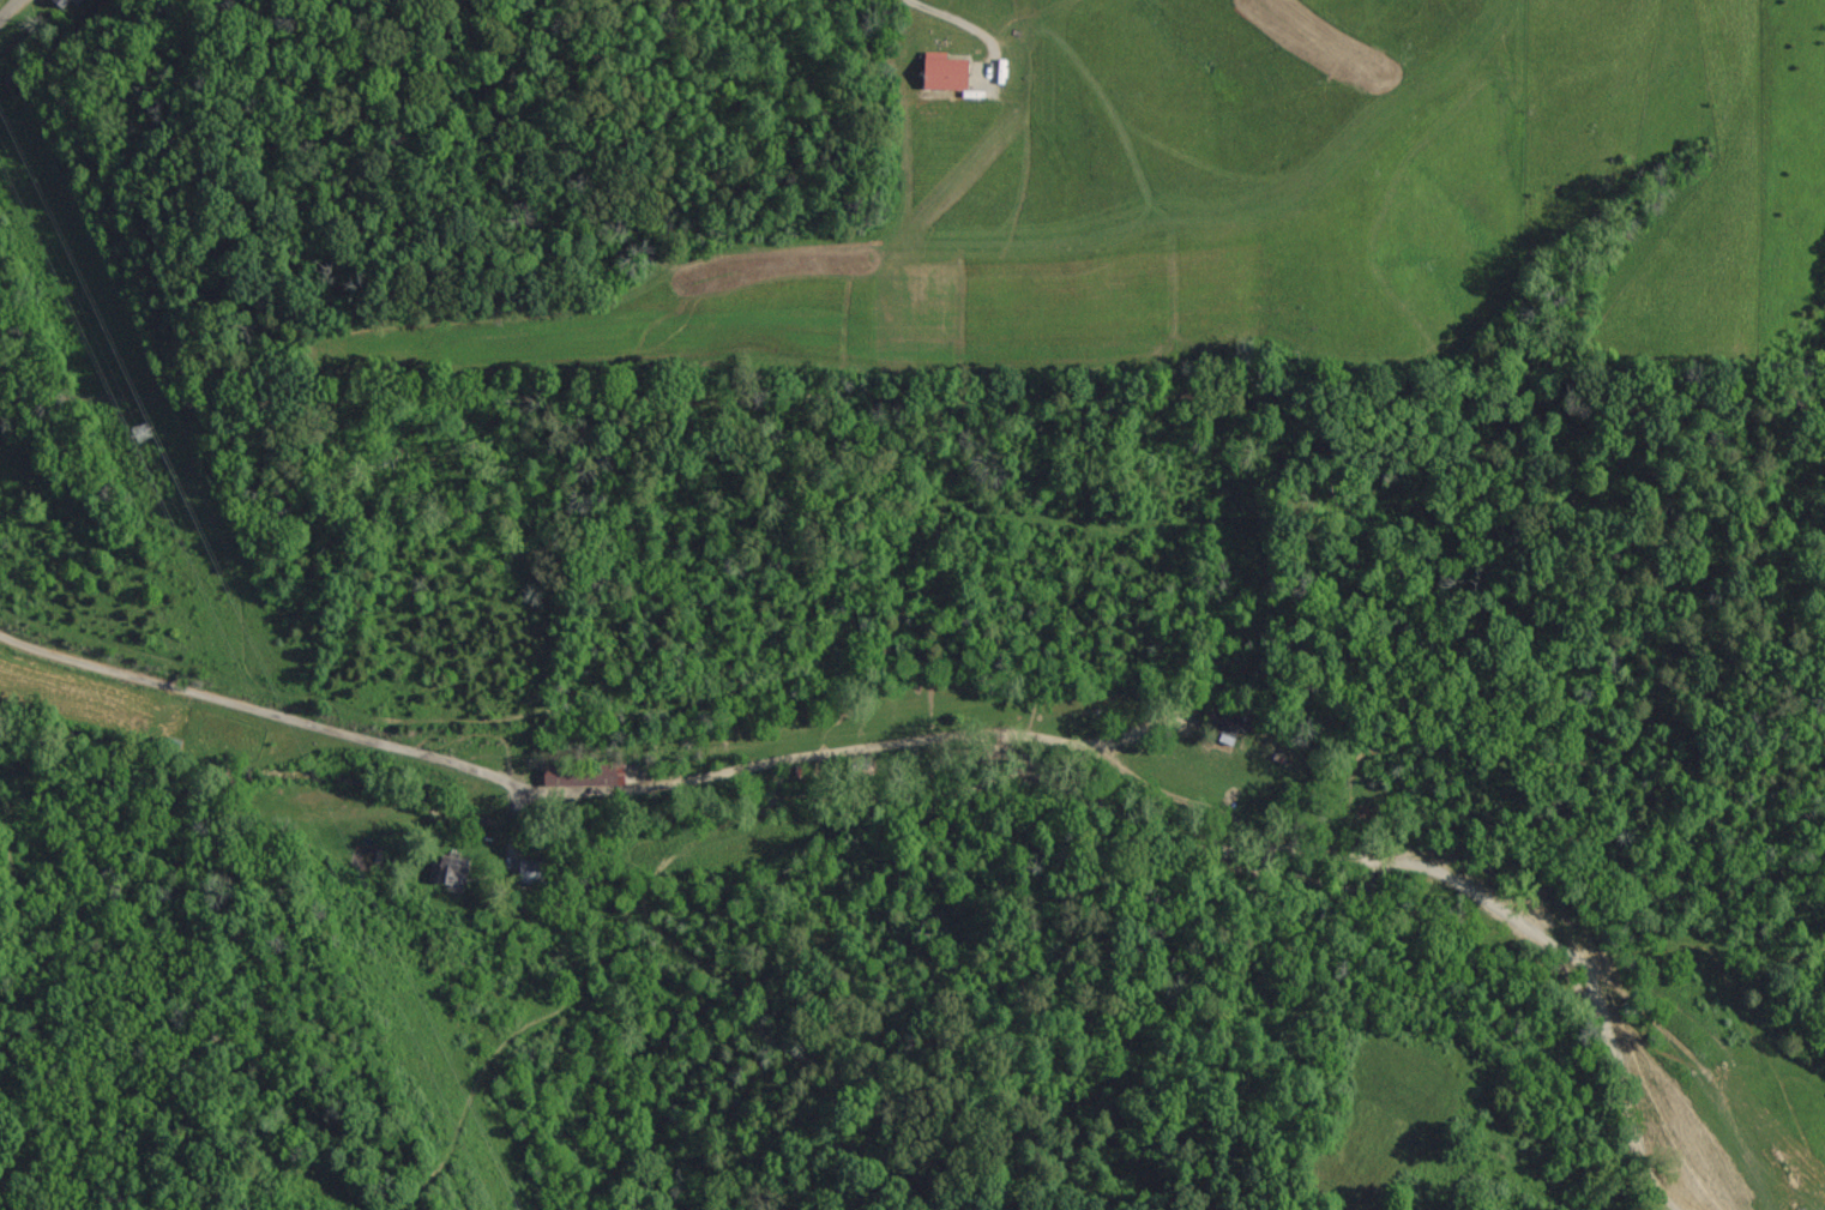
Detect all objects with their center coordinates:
road: (8, 8)
building: (940, 74)
power tower: (124, 422)
road: (257, 706)
building: (1224, 724)
building: (446, 869)
power tower: (502, 1209)

